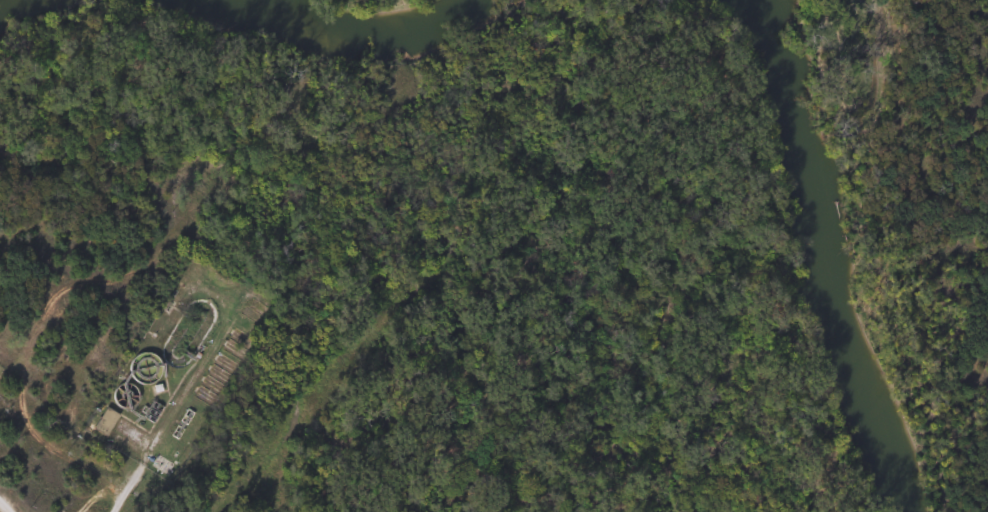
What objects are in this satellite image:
river: (8, 4)
river: (352, 28)
river: (828, 254)
building: (103, 422)

